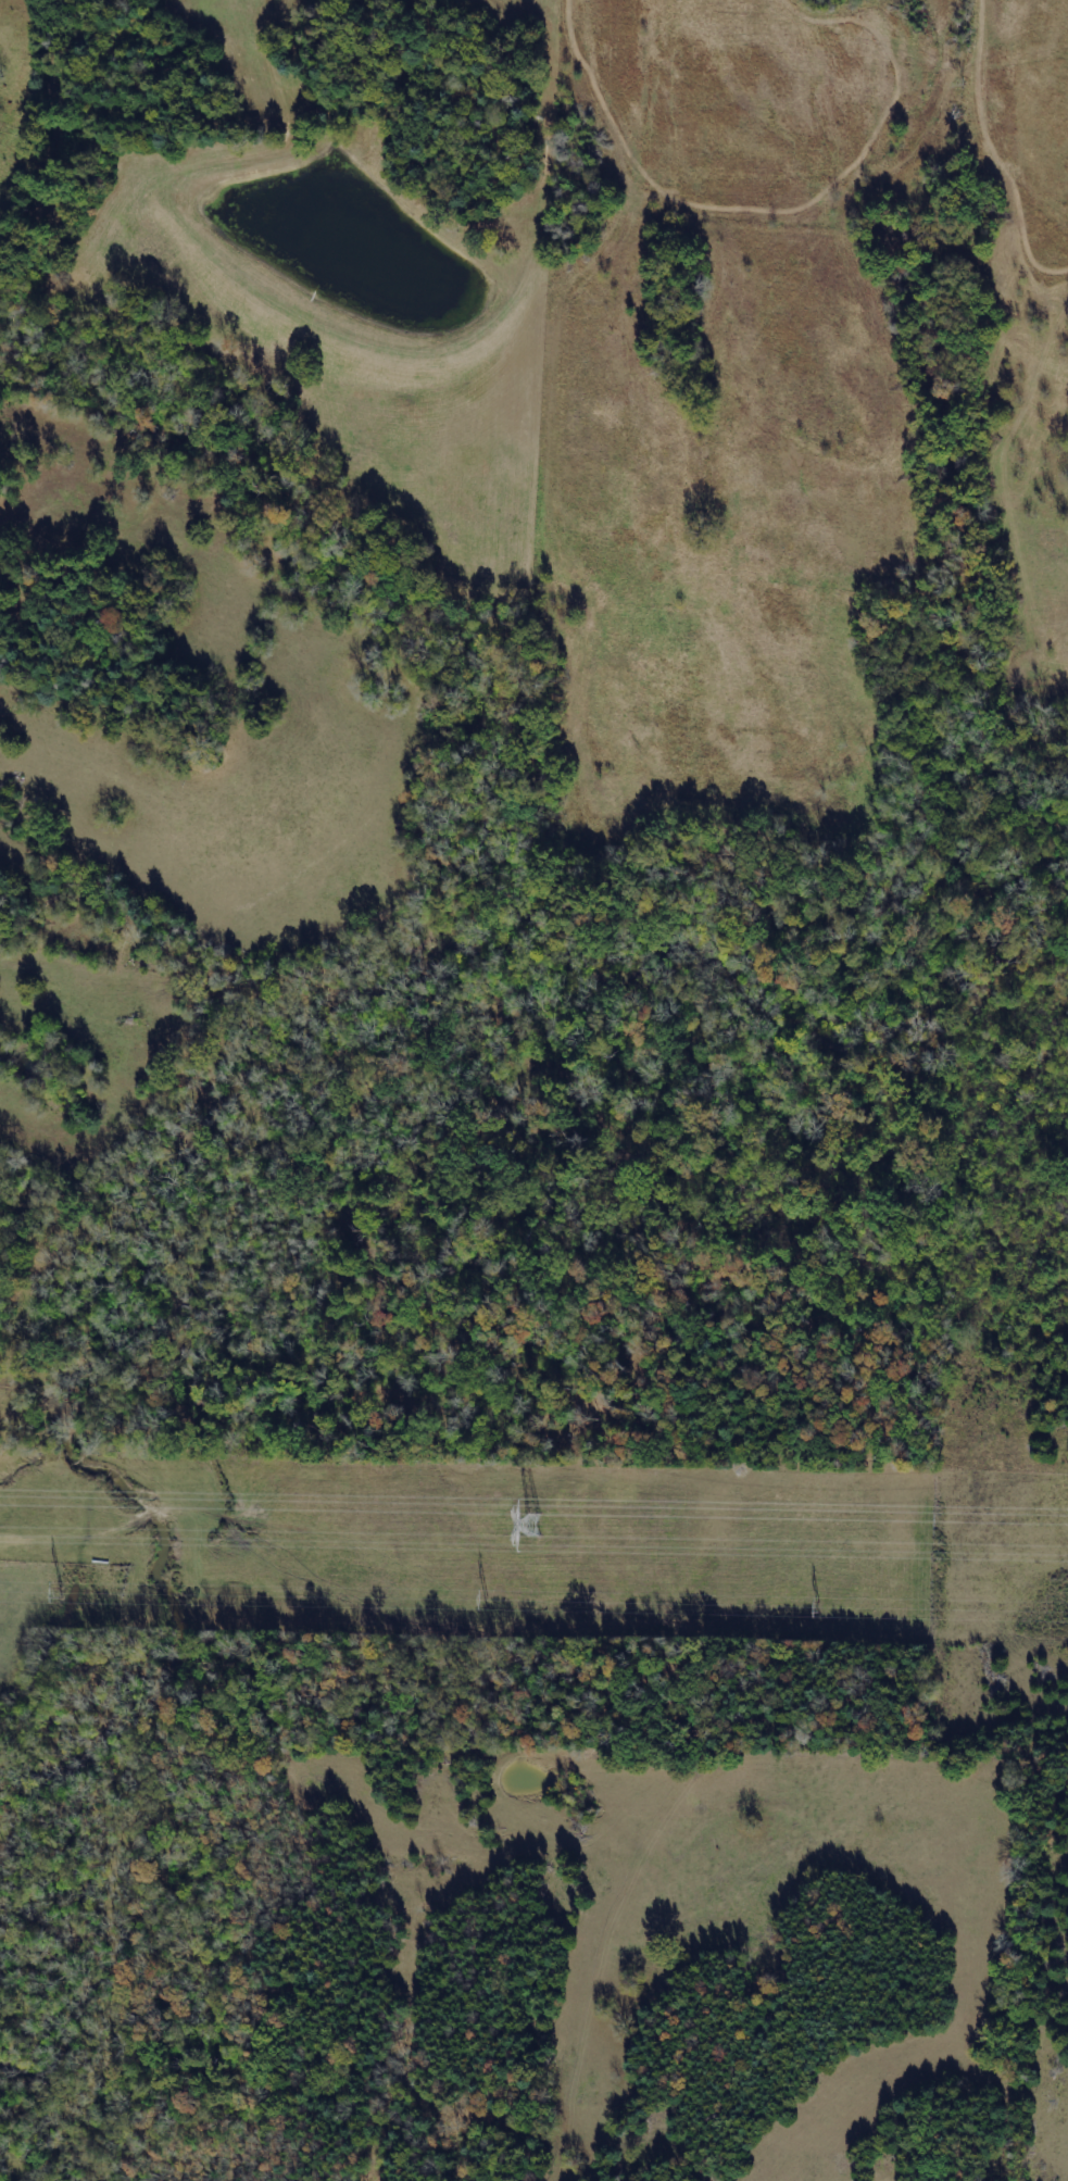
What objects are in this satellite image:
power tower: (526, 1524)

